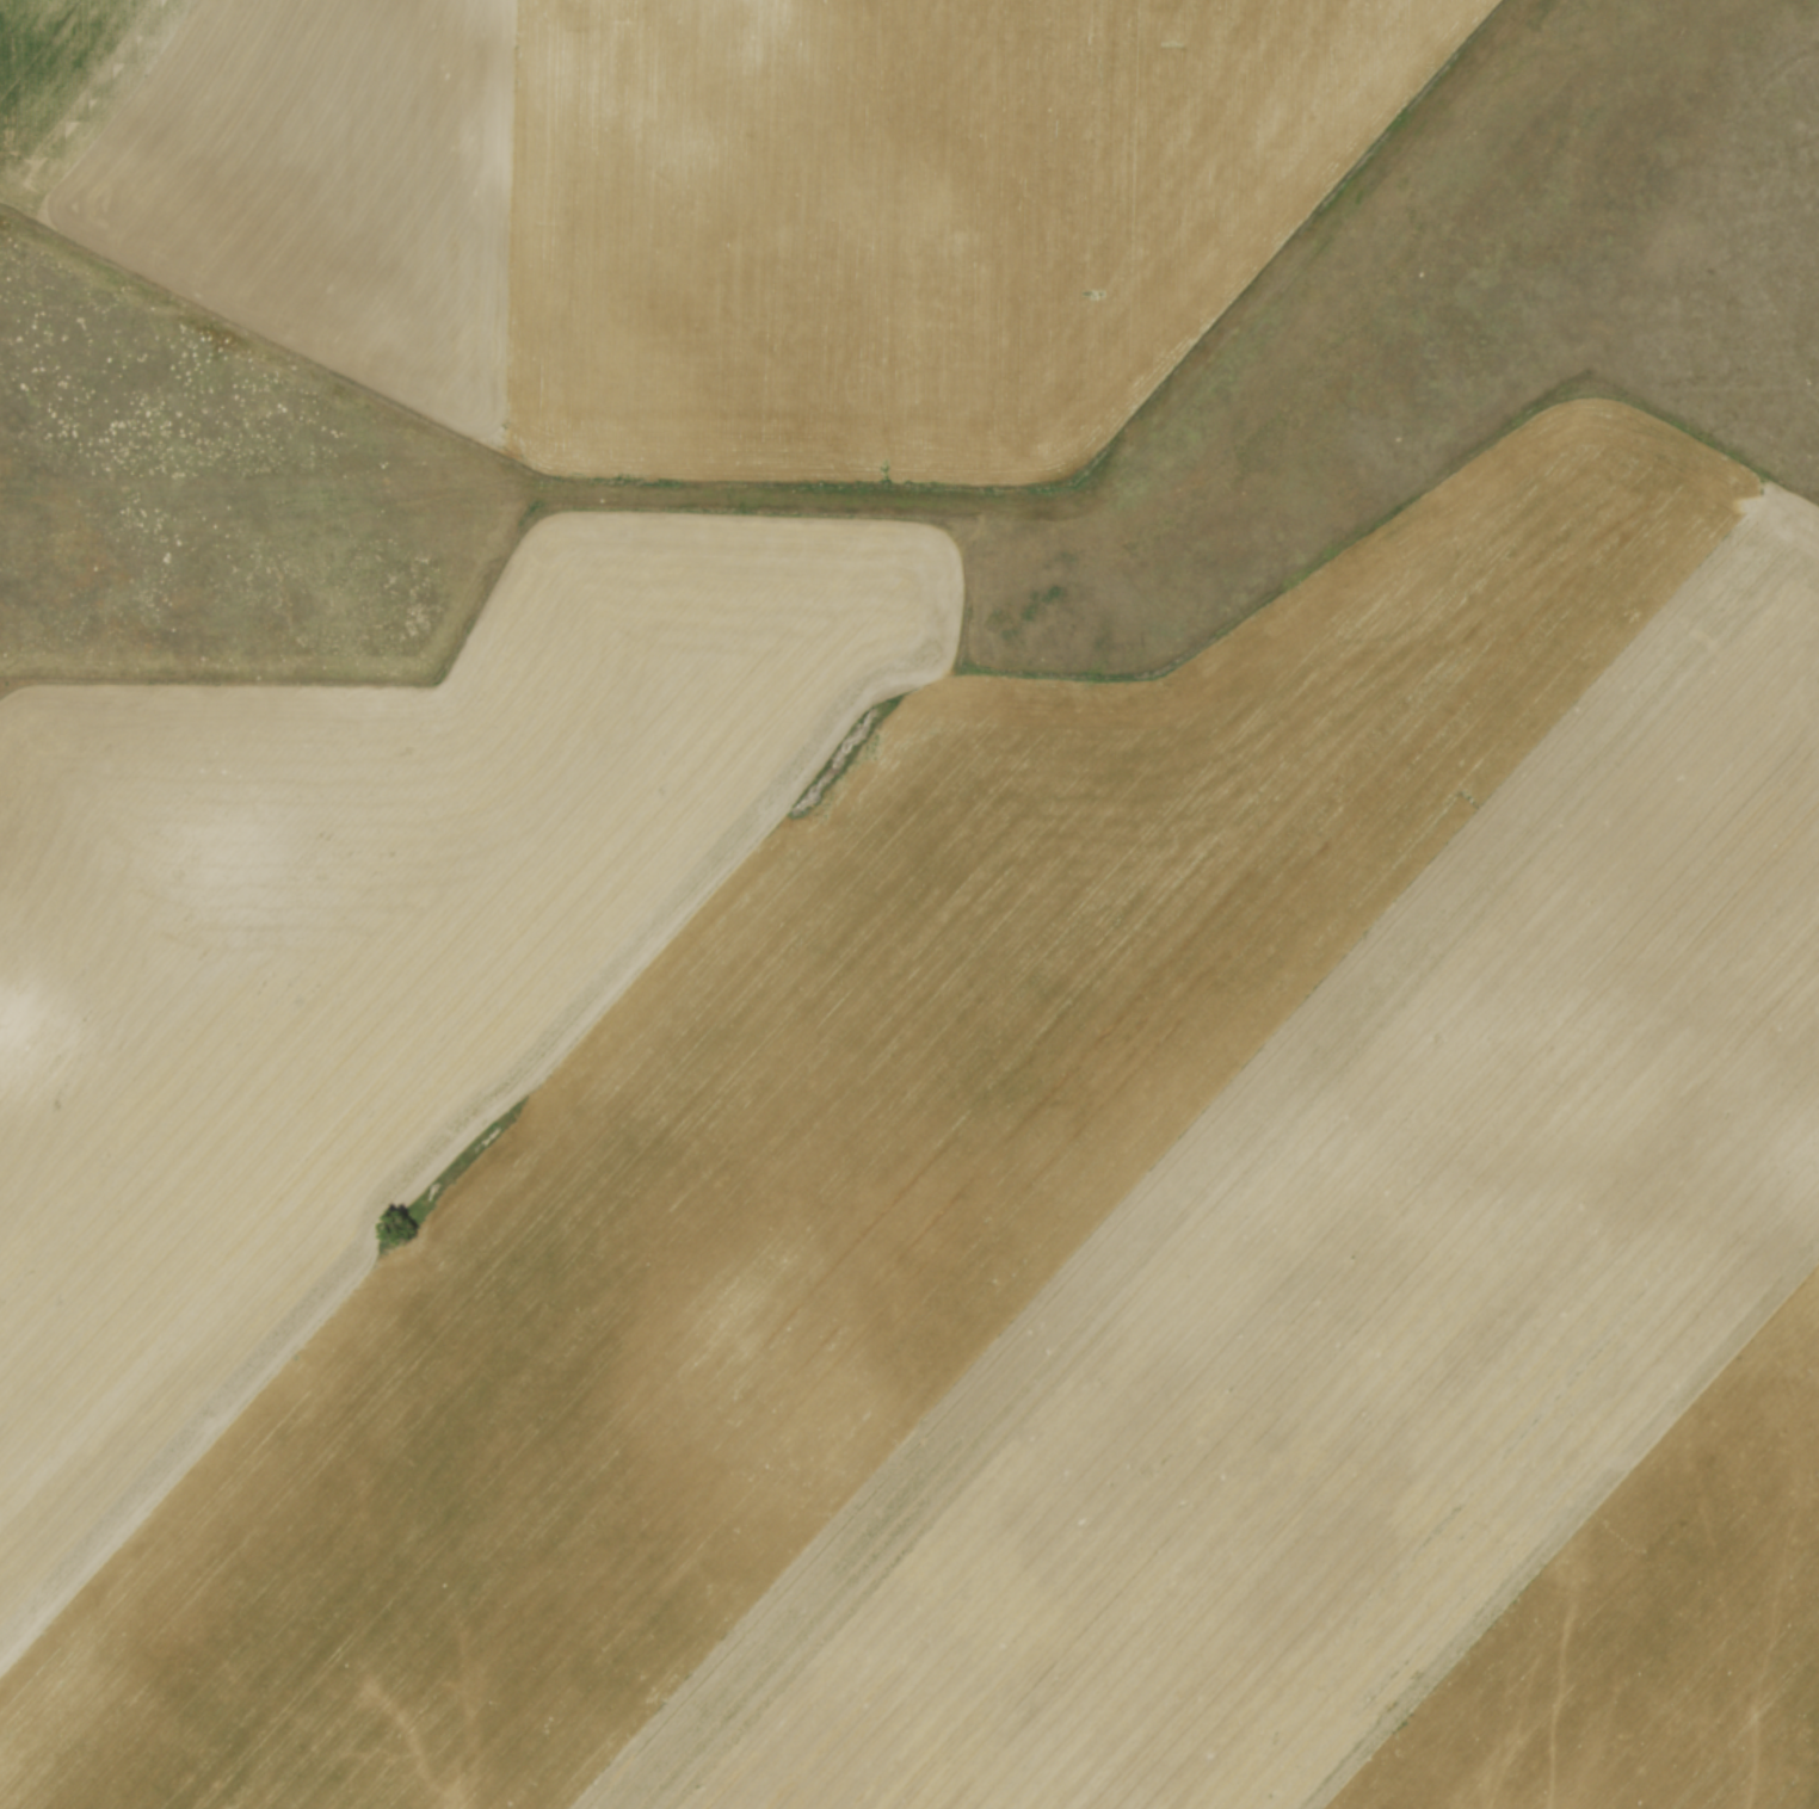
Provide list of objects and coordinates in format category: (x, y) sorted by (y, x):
crop: (715, 205)
crop: (937, 1188)

